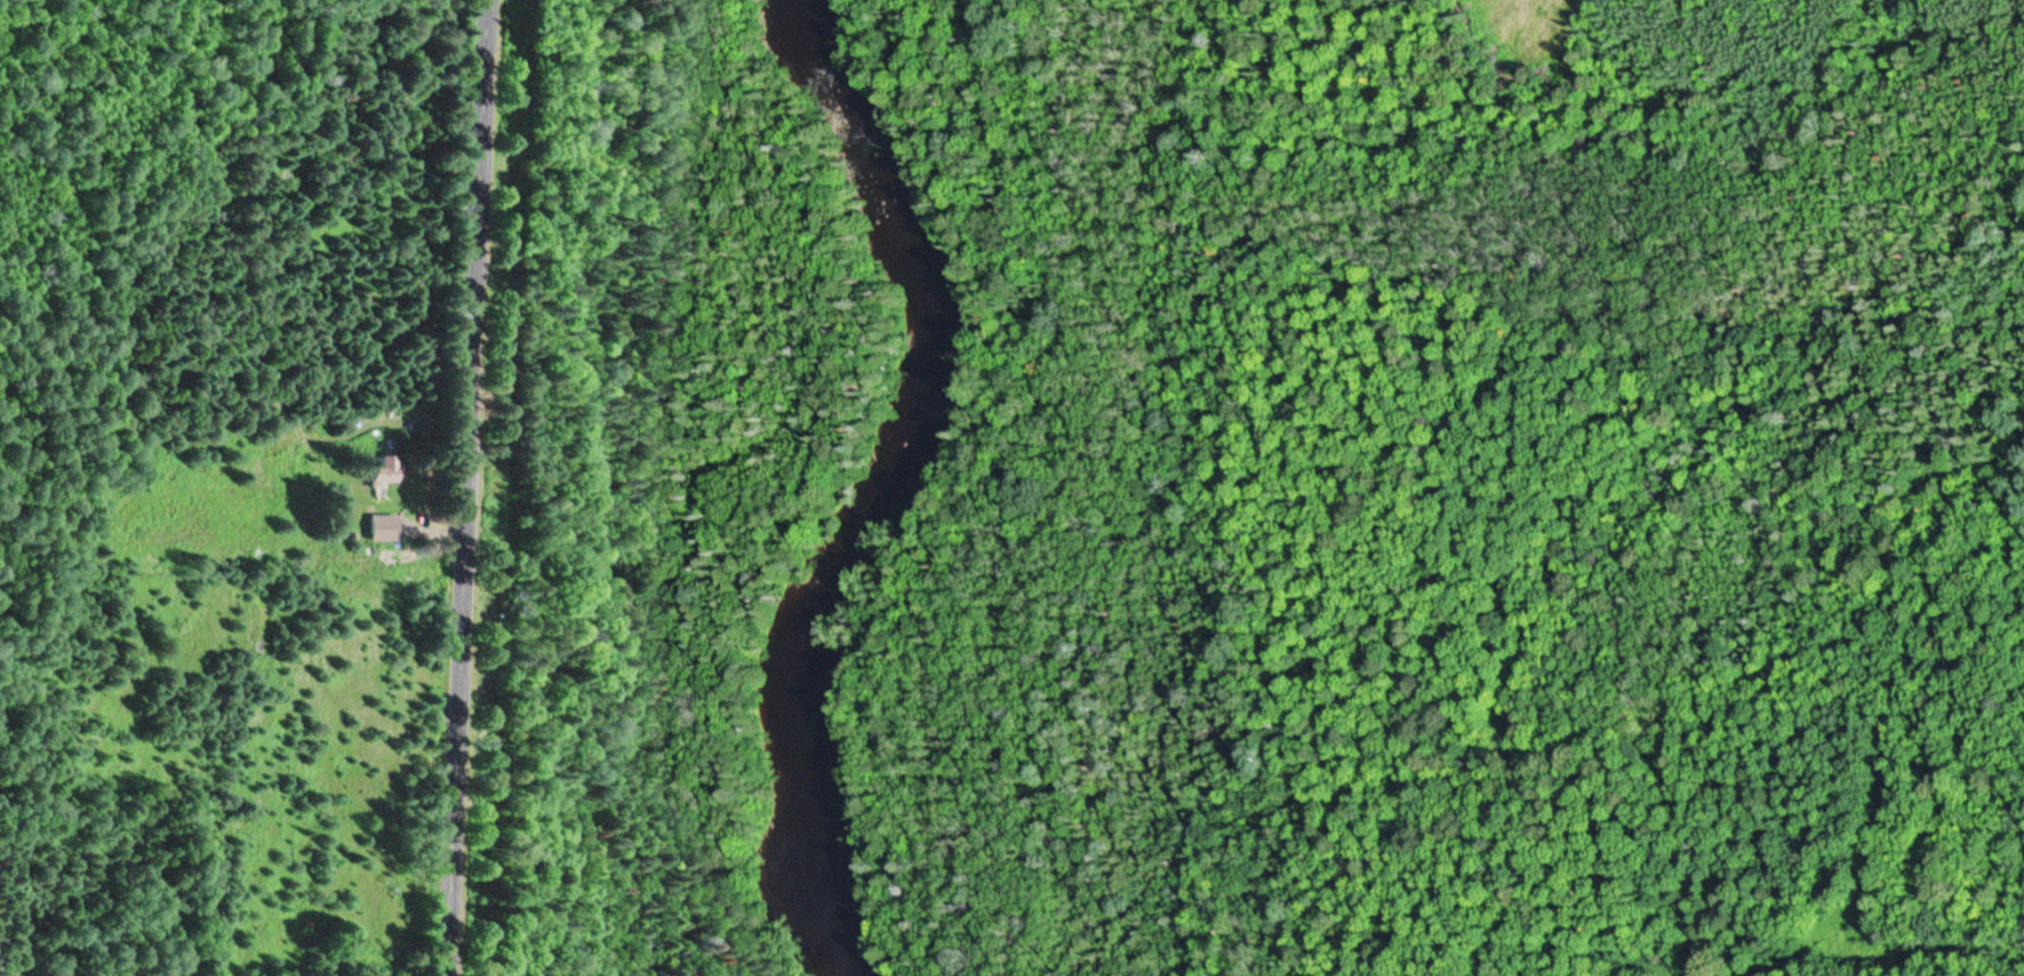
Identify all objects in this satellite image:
building: (382, 472)
river: (868, 475)
road: (449, 487)
building: (382, 528)

